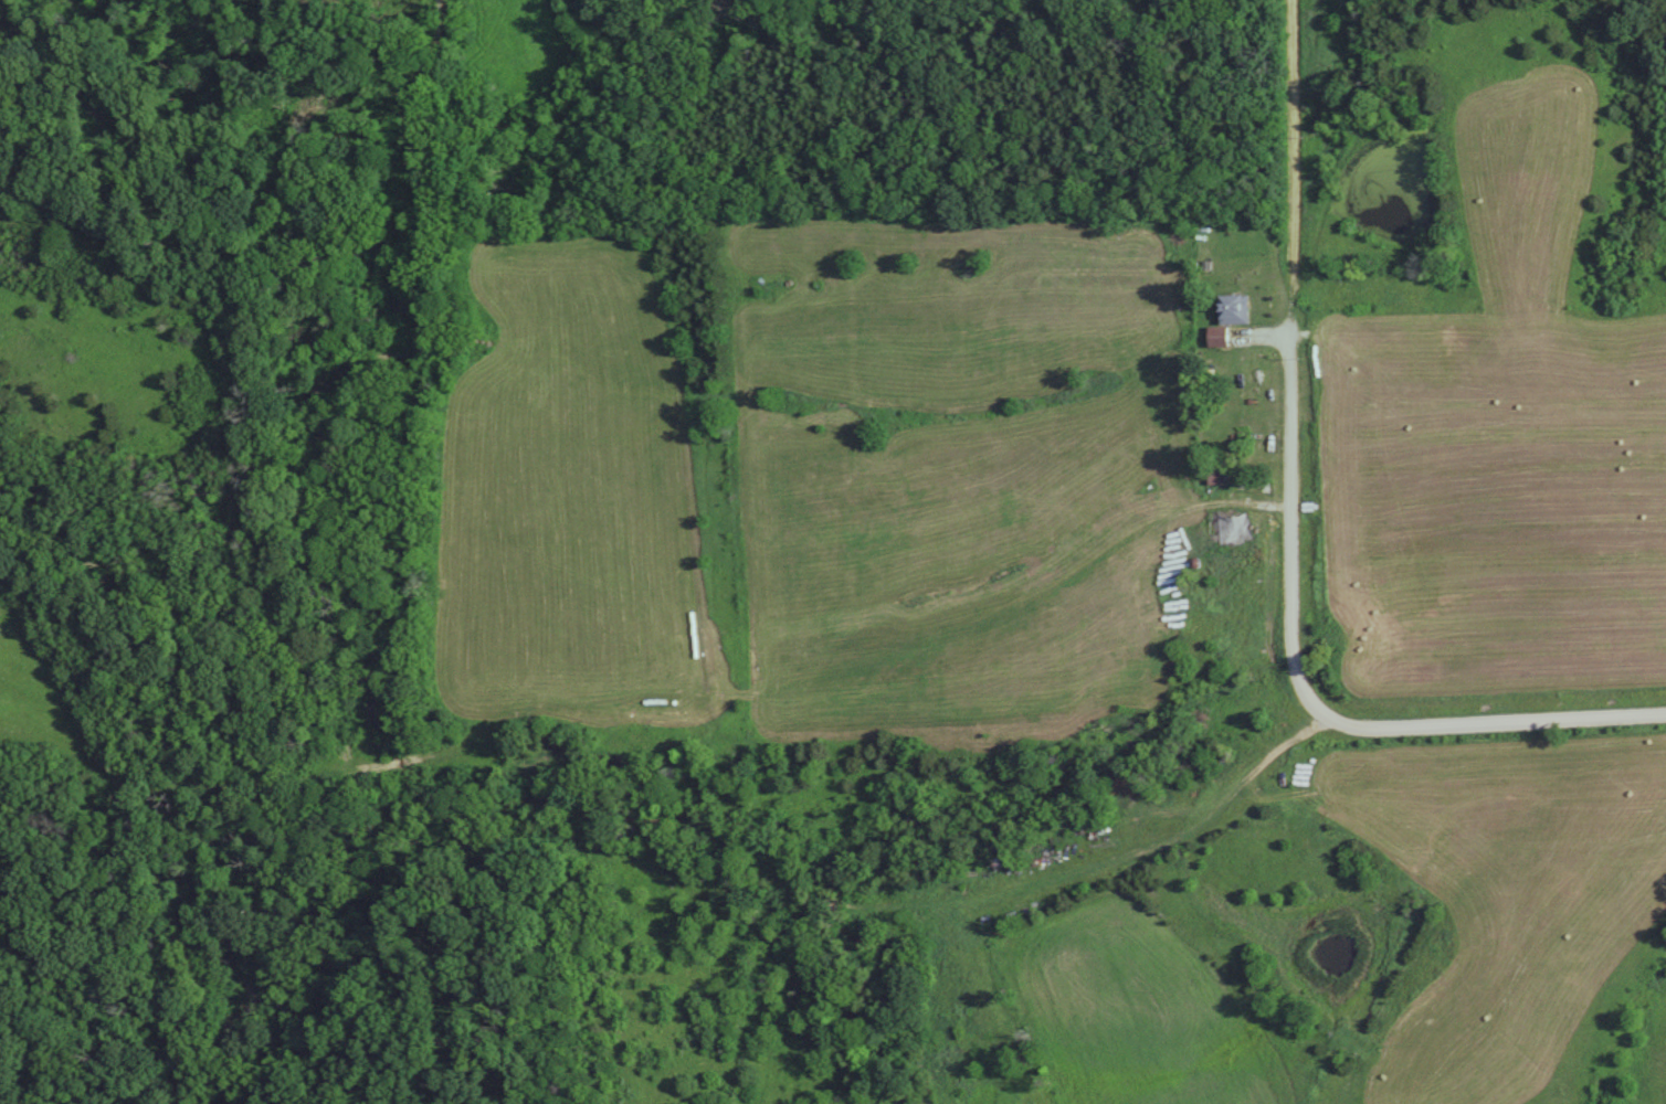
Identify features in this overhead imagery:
building: (1232, 308)
building: (1216, 337)
road: (1291, 376)
road: (1509, 721)

